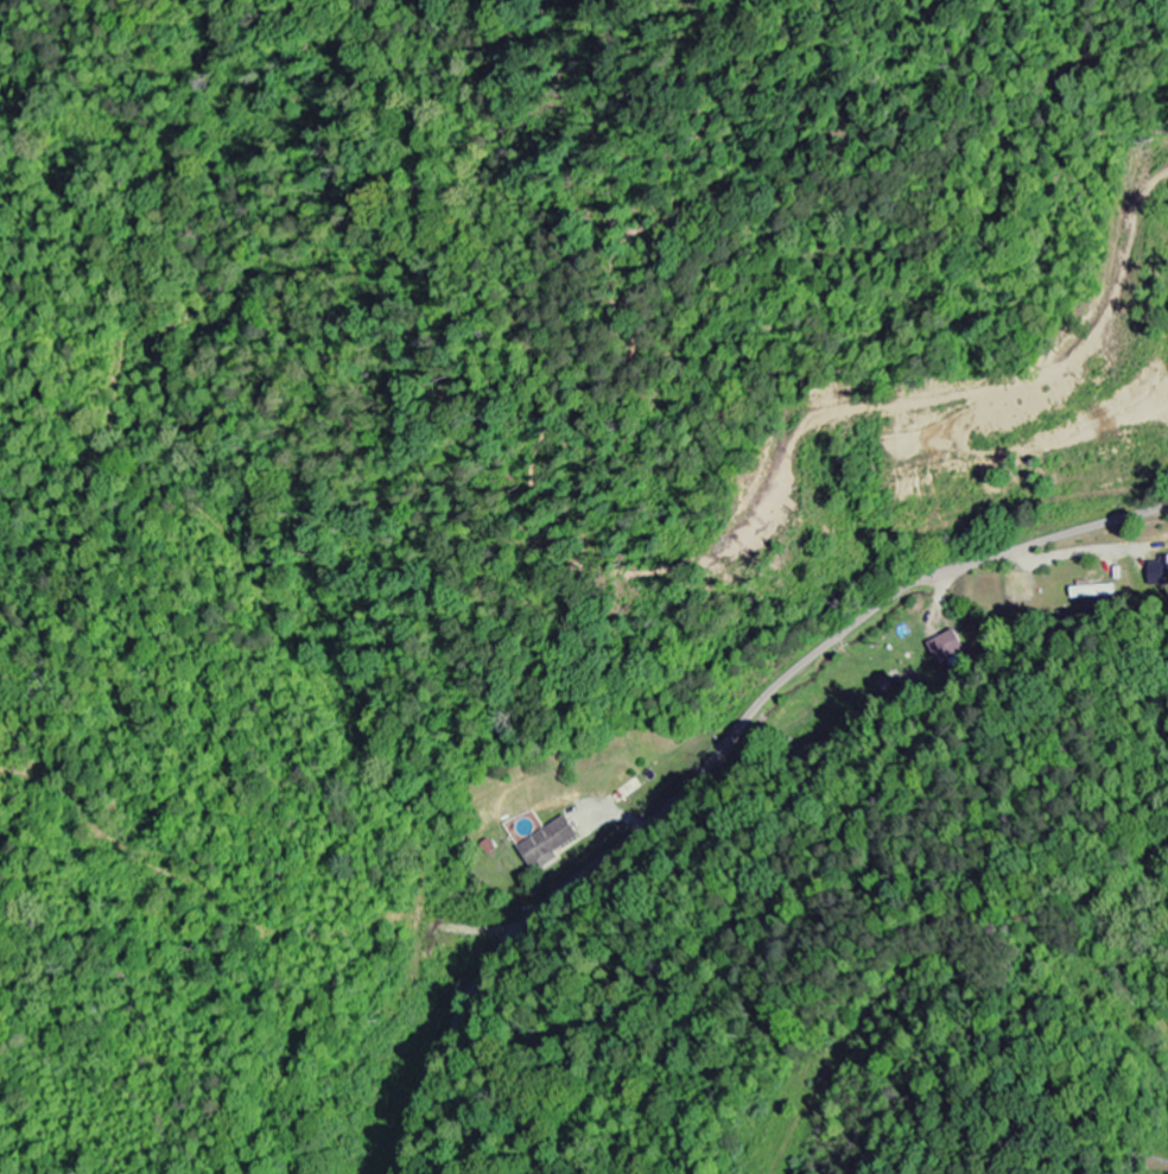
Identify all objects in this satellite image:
building: (1159, 573)
building: (1109, 591)
building: (950, 647)
road: (711, 756)
building: (551, 842)

